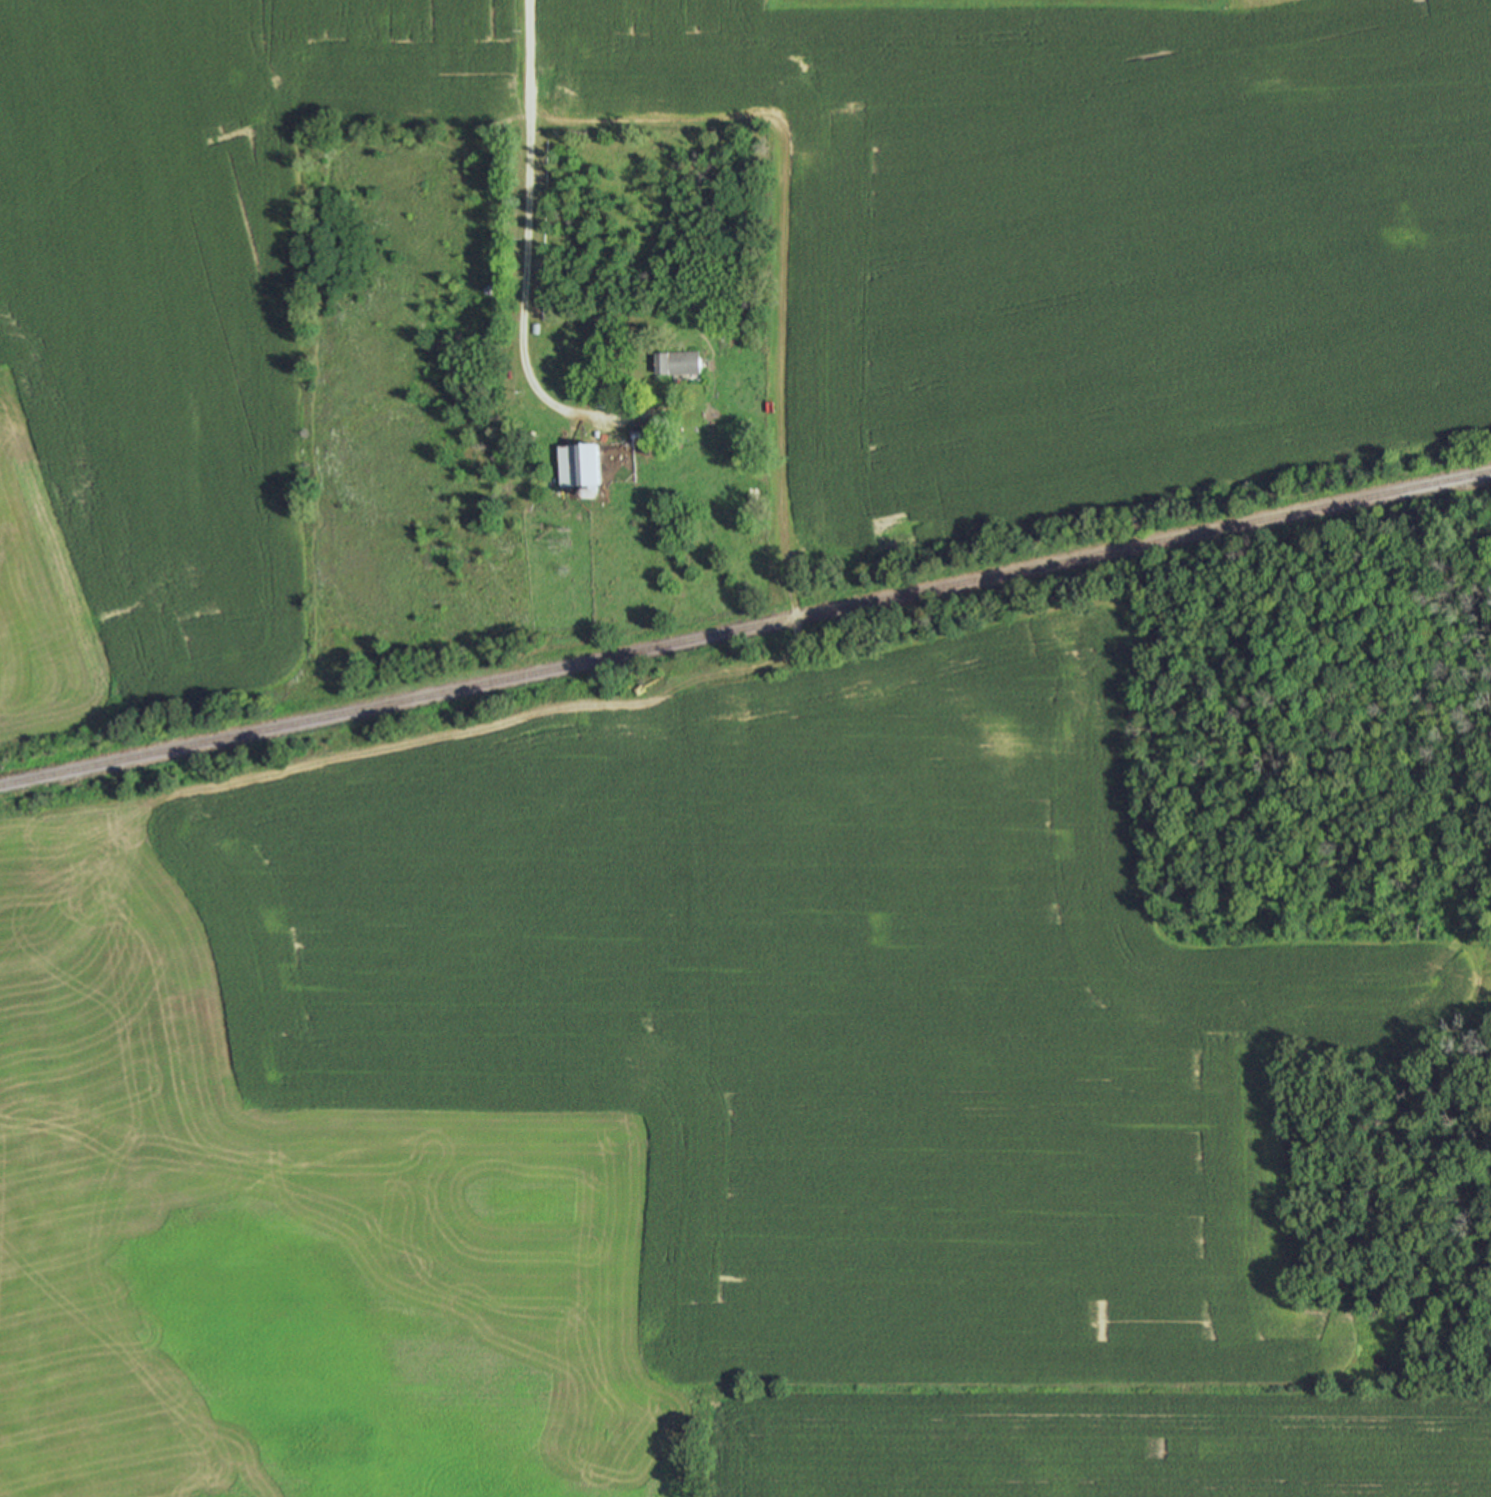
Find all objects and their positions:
road: (523, 285)
road: (778, 310)
building: (675, 362)
building: (576, 466)
railway: (745, 627)

